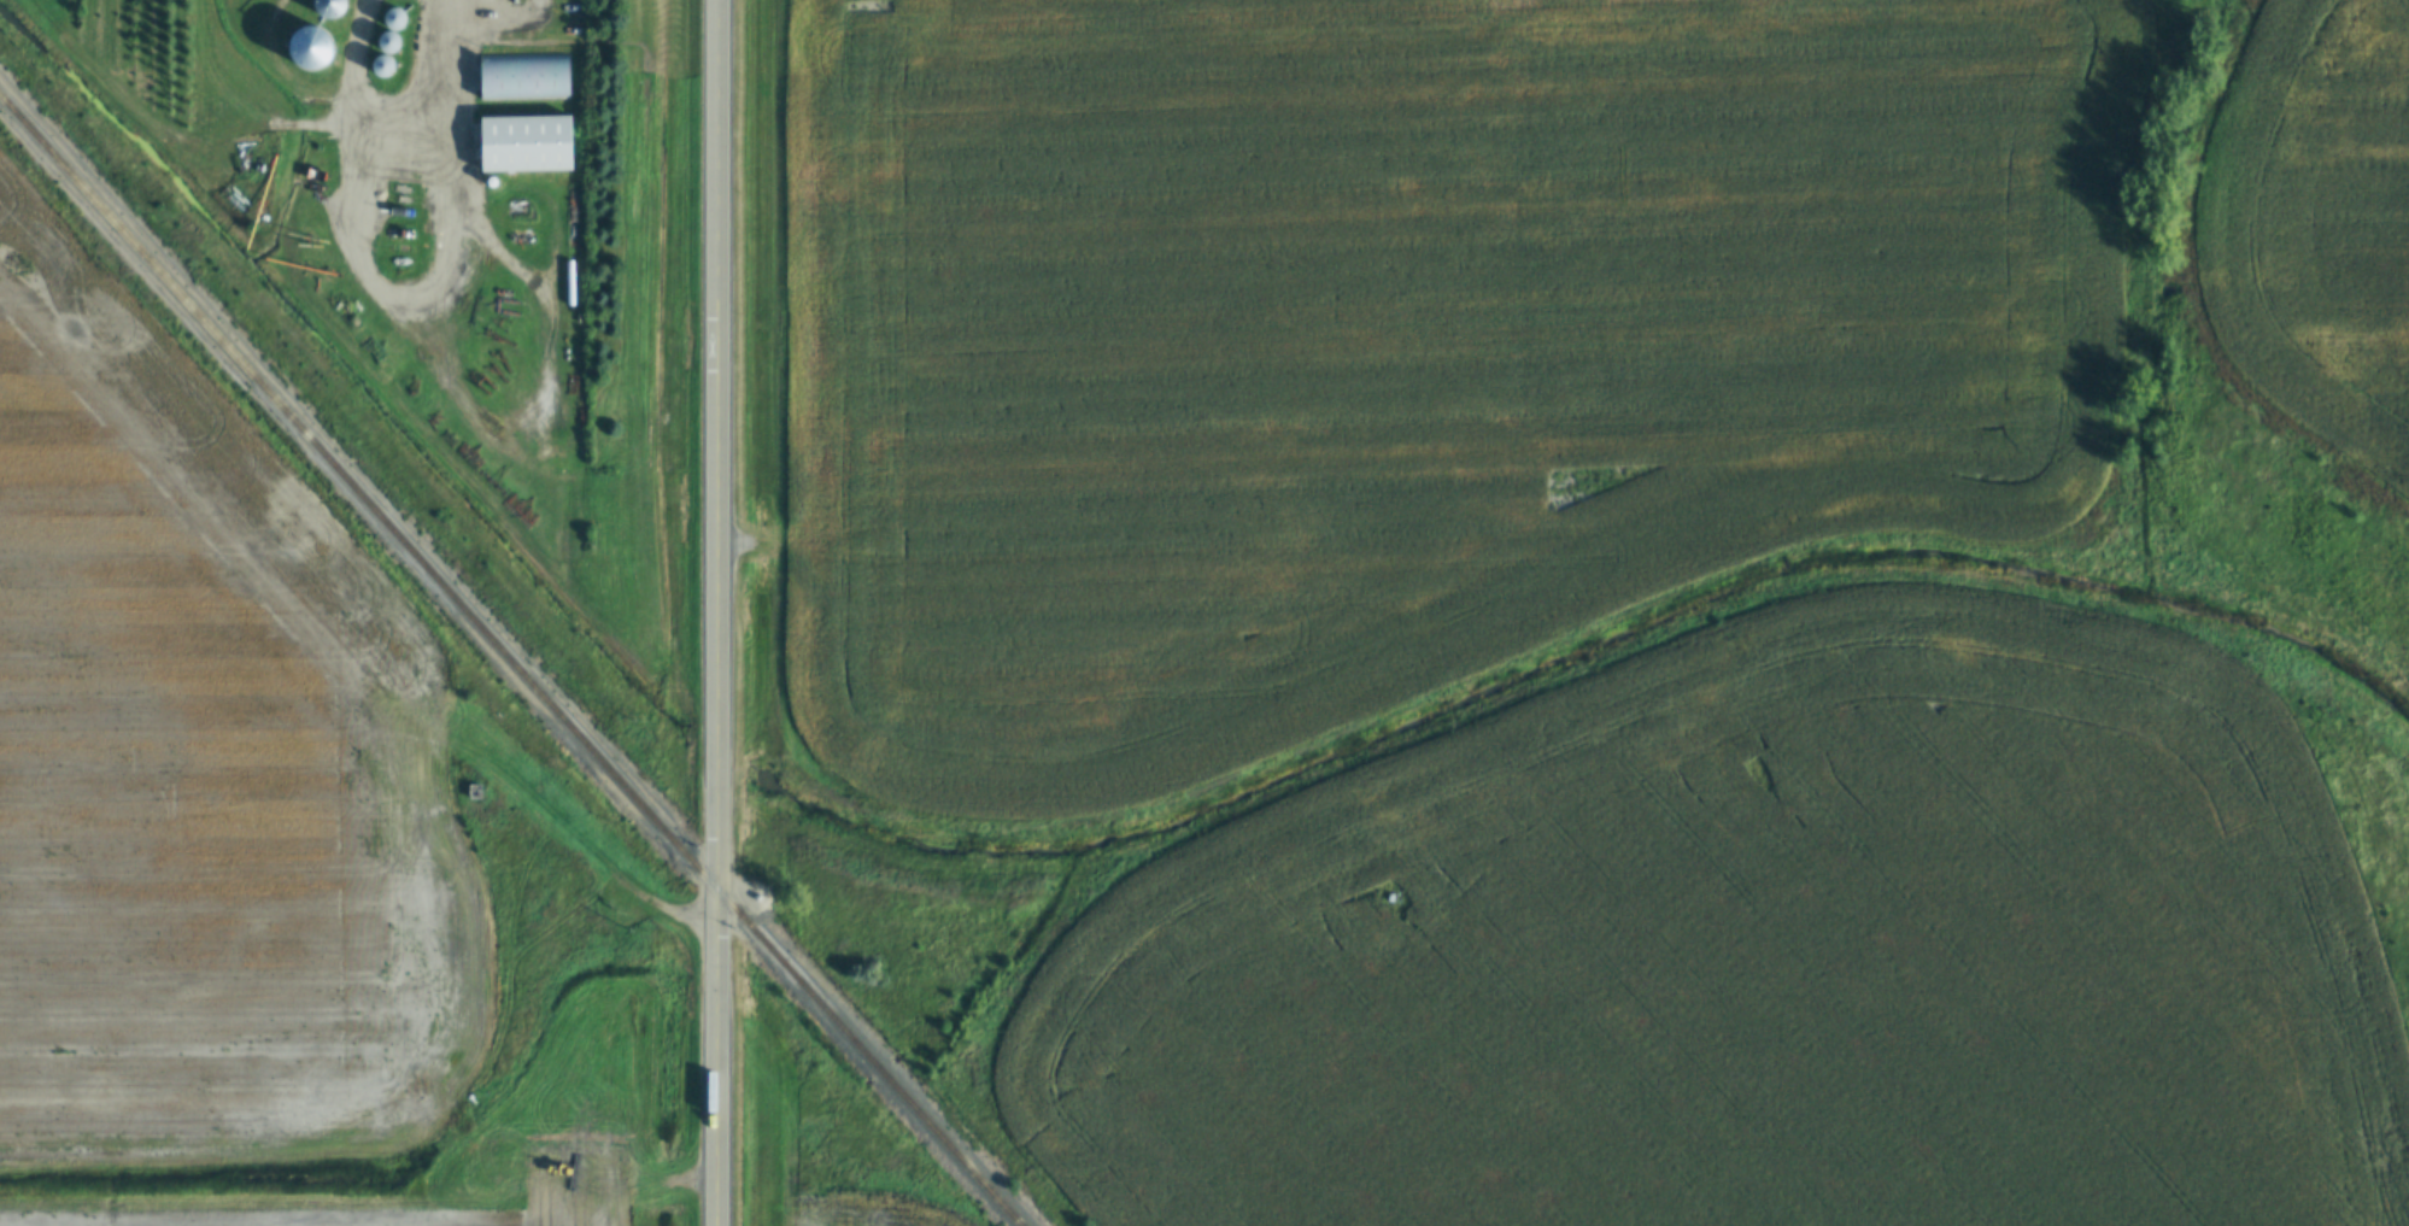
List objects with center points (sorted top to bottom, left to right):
building: (327, 7)
silo: (327, 7)
building: (391, 19)
silo: (391, 19)
building: (385, 42)
silo: (385, 42)
building: (306, 48)
silo: (306, 48)
building: (379, 66)
silo: (379, 66)
building: (518, 78)
building: (521, 145)
road: (450, 149)
storage tank: (487, 183)
road: (711, 499)
railway: (508, 665)
building: (471, 792)
road: (622, 880)
road: (711, 1060)
road: (713, 1173)

